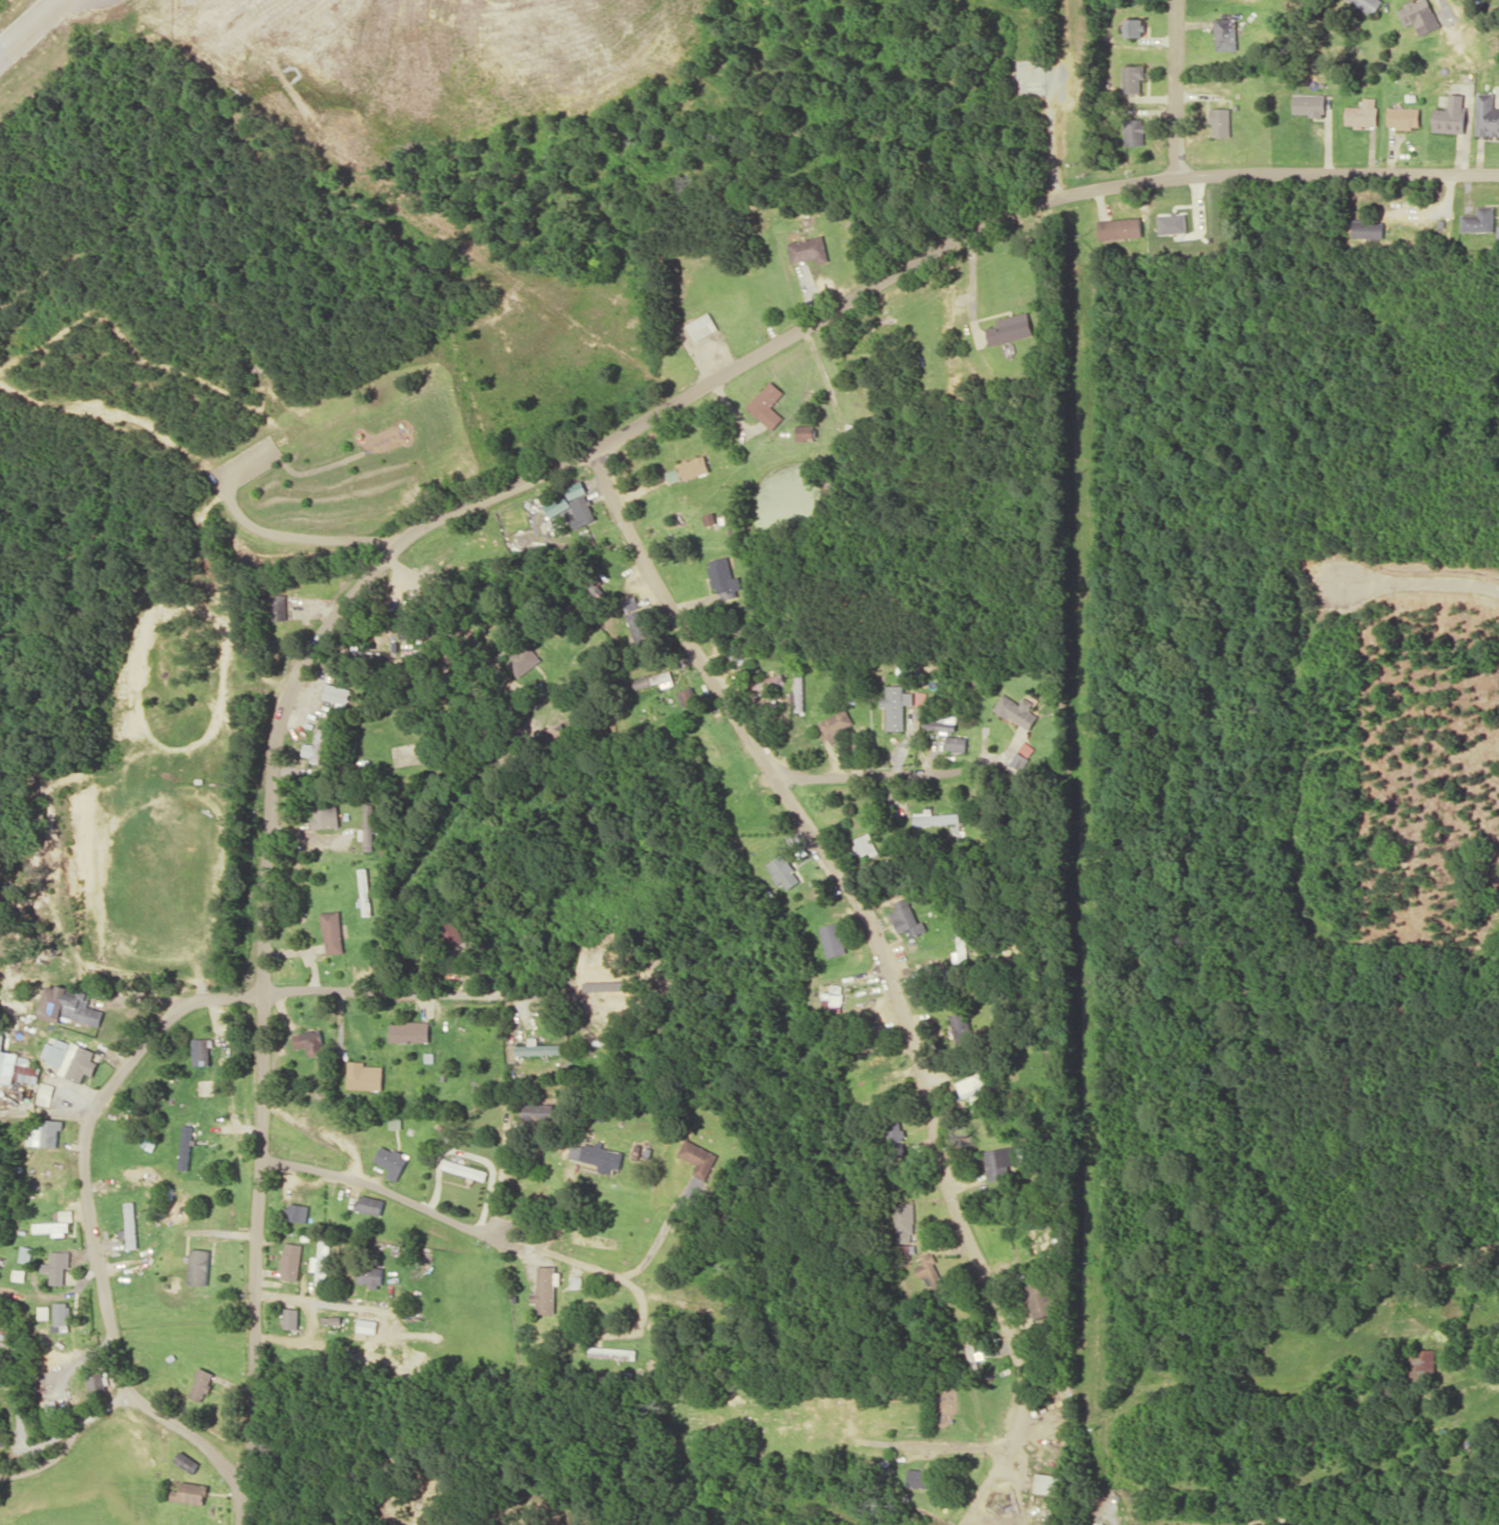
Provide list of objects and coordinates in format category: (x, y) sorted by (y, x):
building: (1368, 4)
building: (1420, 15)
road: (29, 26)
building: (1133, 26)
building: (1225, 33)
building: (1134, 78)
road: (1177, 88)
building: (1309, 104)
building: (1362, 113)
building: (1487, 114)
building: (1451, 115)
building: (1403, 117)
building: (1221, 121)
building: (1135, 131)
building: (1480, 219)
building: (1173, 223)
building: (1121, 228)
building: (1368, 229)
building: (809, 249)
building: (704, 326)
building: (1010, 328)
building: (768, 404)
building: (806, 432)
building: (695, 467)
park: (335, 484)
building: (578, 489)
road: (472, 504)
building: (559, 504)
building: (584, 511)
building: (726, 578)
road: (1423, 580)
building: (633, 604)
building: (282, 606)
building: (641, 625)
building: (523, 659)
building: (655, 680)
building: (779, 689)
building: (339, 695)
building: (688, 695)
building: (921, 697)
building: (896, 705)
building: (1018, 710)
building: (941, 721)
building: (836, 725)
building: (957, 743)
building: (1020, 760)
road: (874, 772)
building: (326, 814)
building: (935, 817)
building: (369, 827)
building: (864, 844)
building: (784, 871)
building: (907, 918)
building: (334, 932)
building: (453, 933)
road: (873, 933)
building: (834, 939)
building: (933, 971)
road: (370, 991)
building: (613, 992)
building: (70, 1004)
building: (410, 1031)
building: (311, 1042)
building: (539, 1047)
building: (202, 1050)
building: (71, 1058)
building: (18, 1068)
building: (365, 1076)
building: (46, 1093)
building: (540, 1110)
building: (45, 1133)
building: (898, 1140)
building: (185, 1146)
building: (598, 1157)
building: (699, 1157)
building: (392, 1161)
building: (1001, 1162)
building: (465, 1169)
building: (371, 1204)
building: (298, 1212)
building: (131, 1224)
road: (90, 1226)
building: (53, 1227)
building: (905, 1231)
building: (292, 1260)
building: (323, 1262)
building: (58, 1266)
building: (198, 1266)
building: (929, 1271)
building: (372, 1276)
building: (547, 1289)
road: (316, 1298)
building: (1042, 1298)
building: (45, 1311)
building: (62, 1316)
building: (292, 1317)
building: (368, 1325)
building: (97, 1382)
building: (200, 1383)
building: (188, 1461)
building: (919, 1477)
building: (1047, 1483)
building: (191, 1492)

